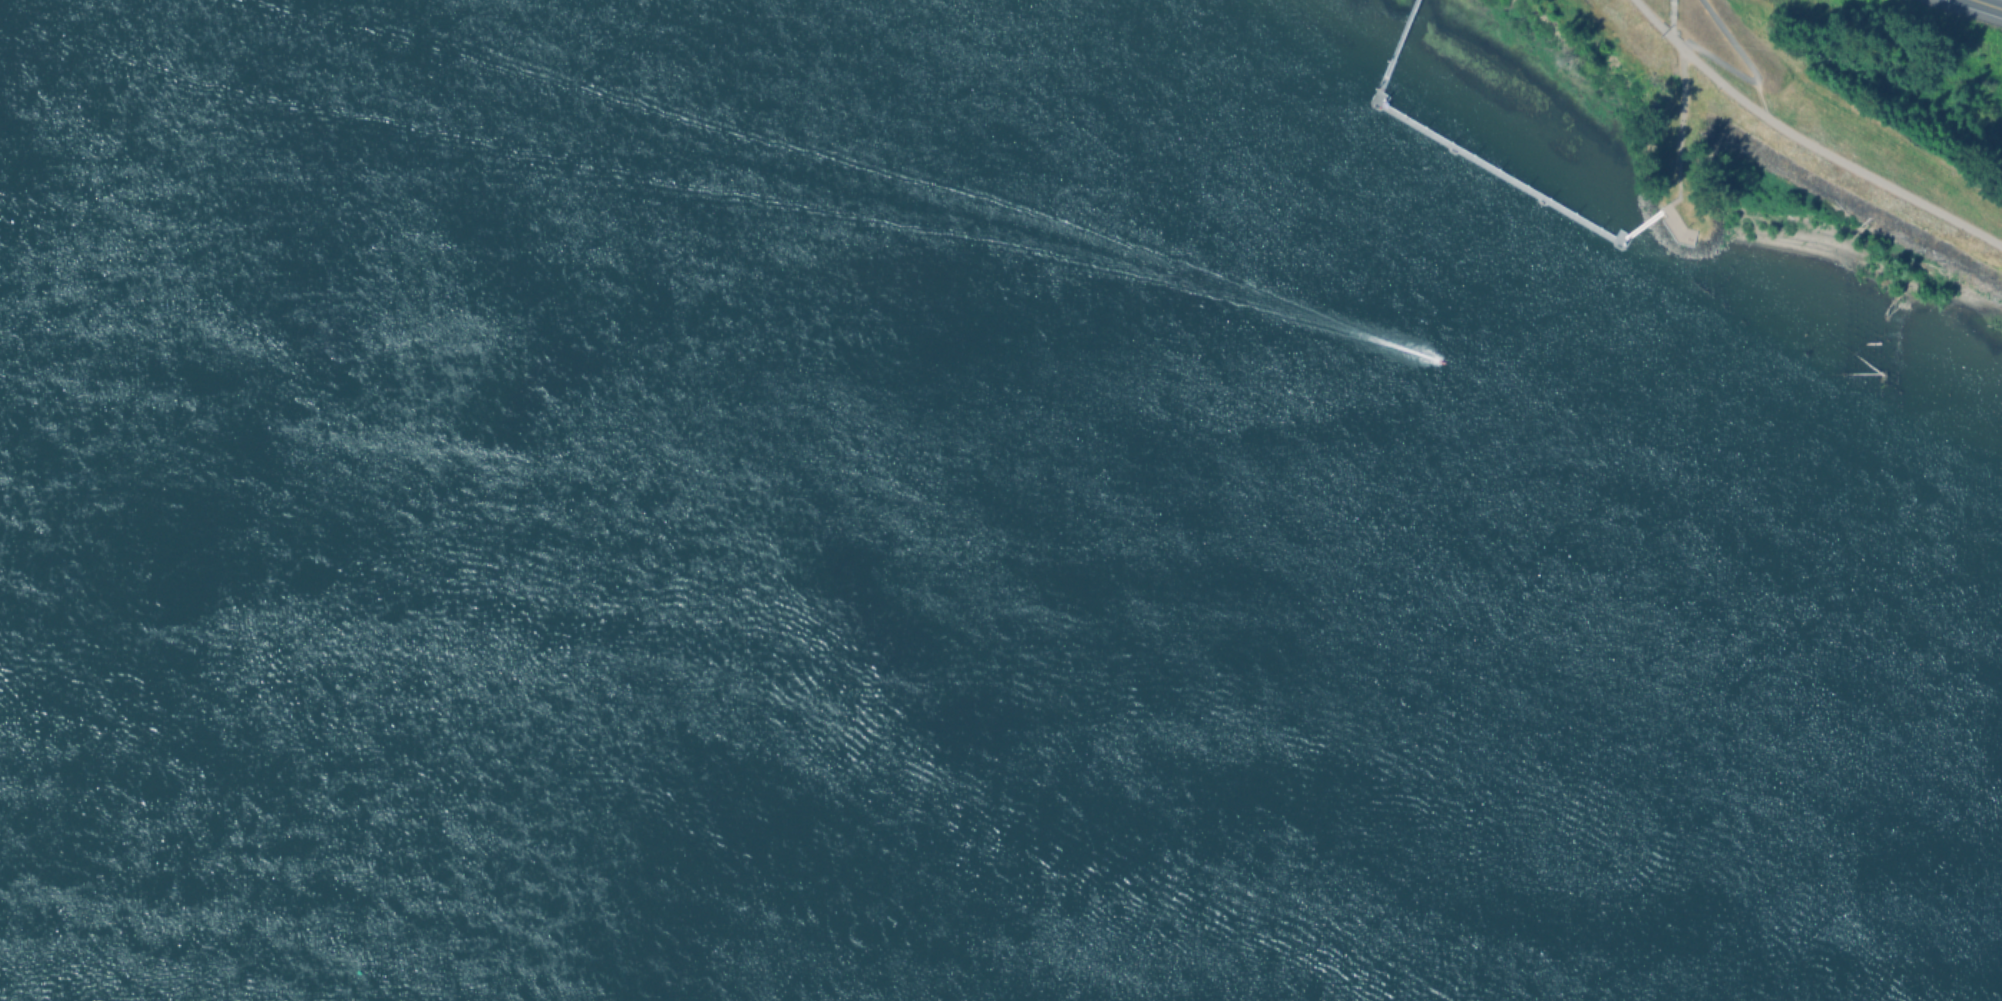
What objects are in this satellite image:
road: (1988, 4)
road: (1748, 66)
pier: (1420, 131)
road: (1685, 133)
road: (1805, 141)
road: (1468, 158)

